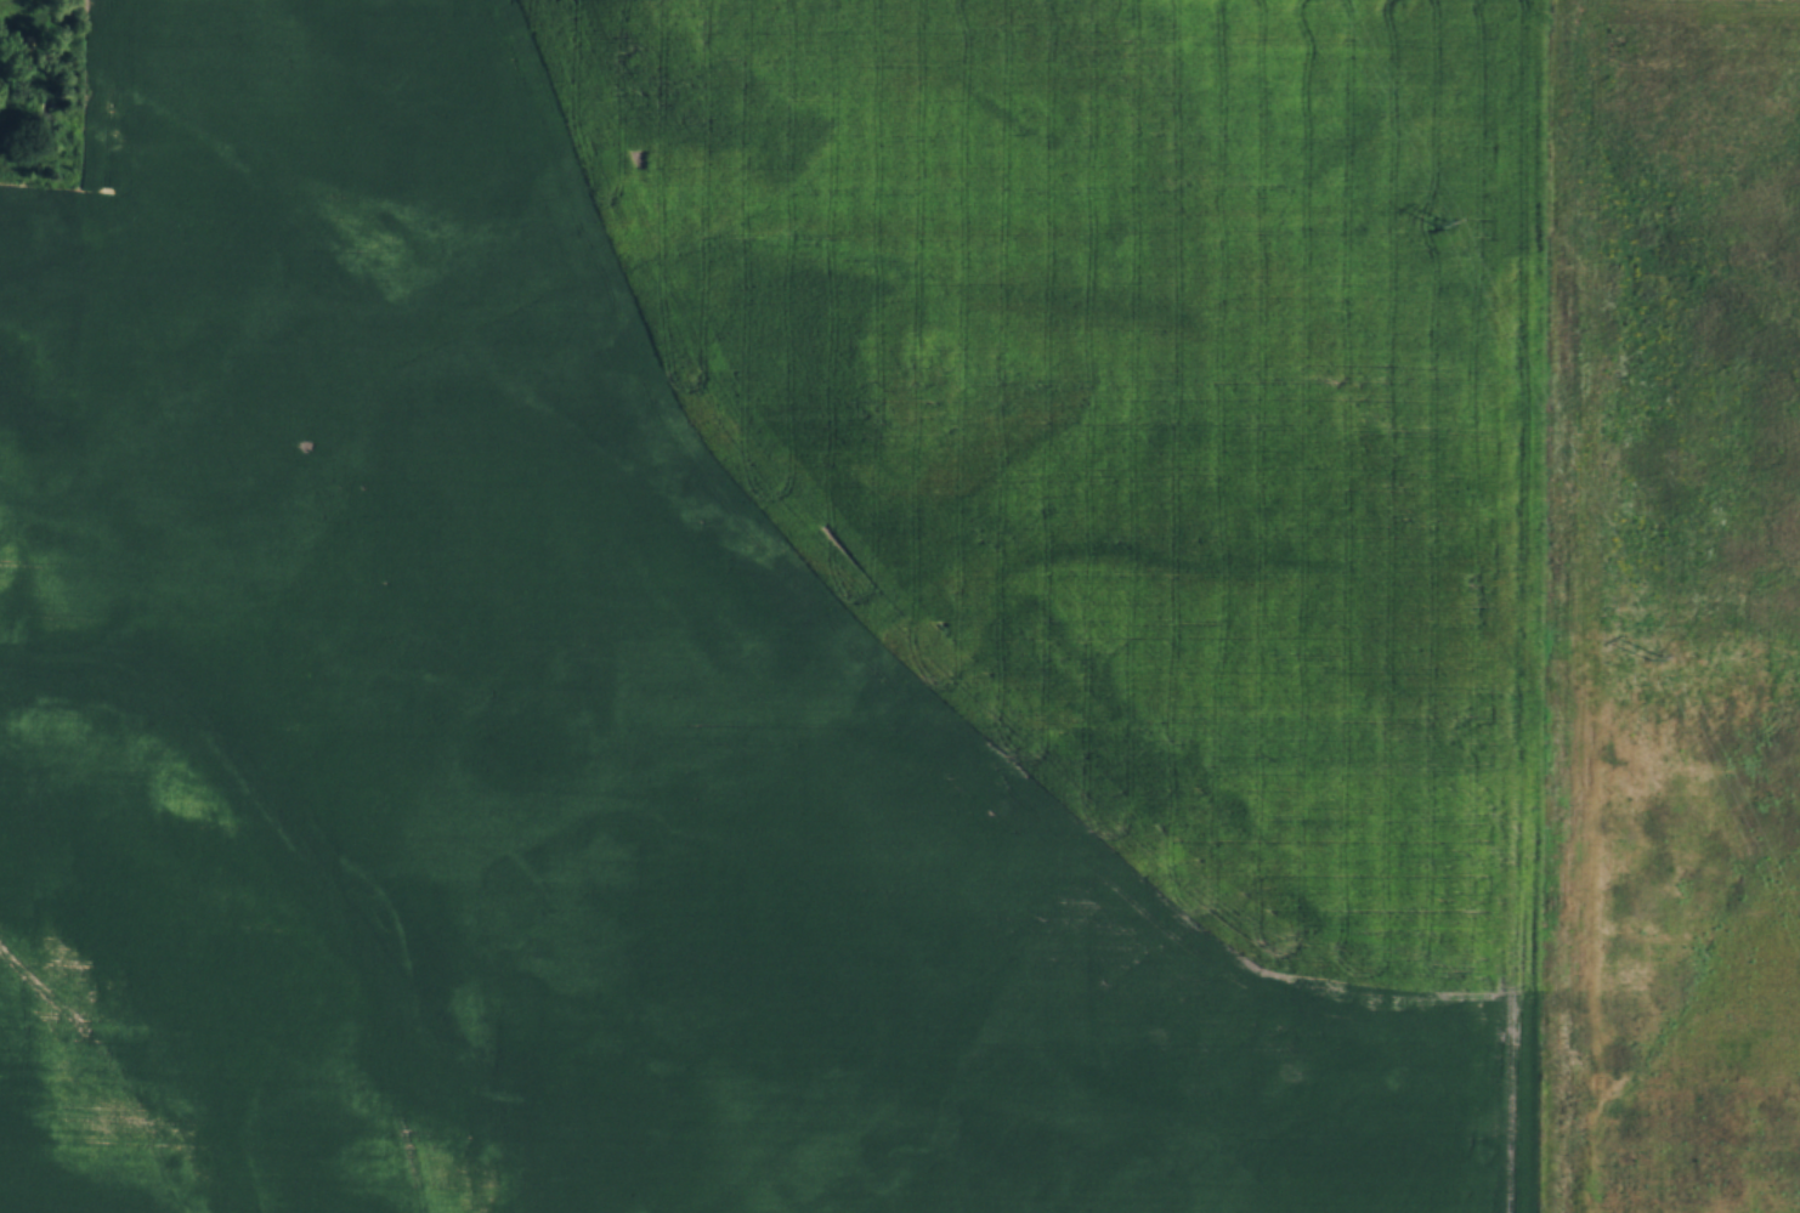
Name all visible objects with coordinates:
power tower: (1442, 221)
power tower: (1655, 656)

